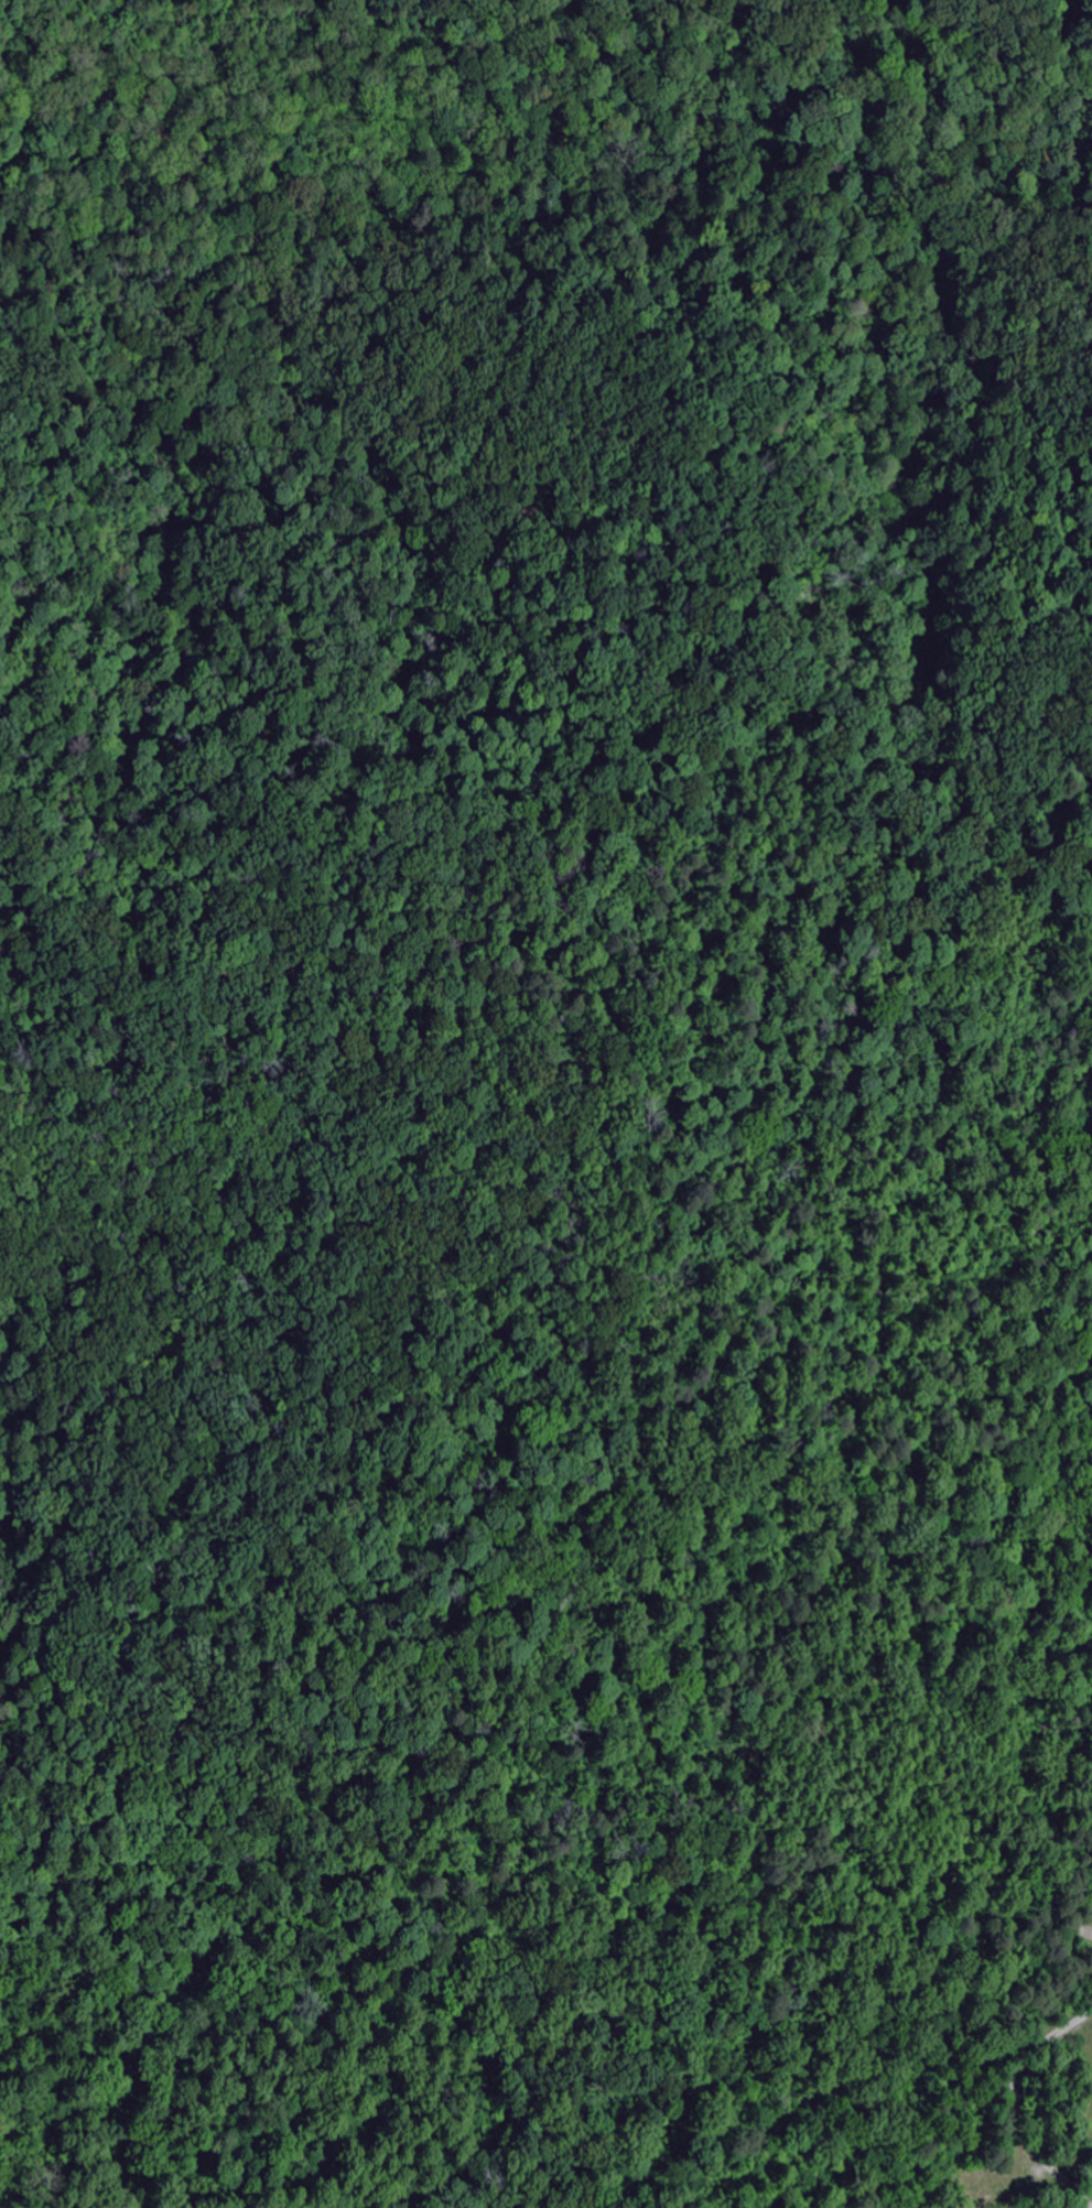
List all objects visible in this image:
road: (1012, 2107)

